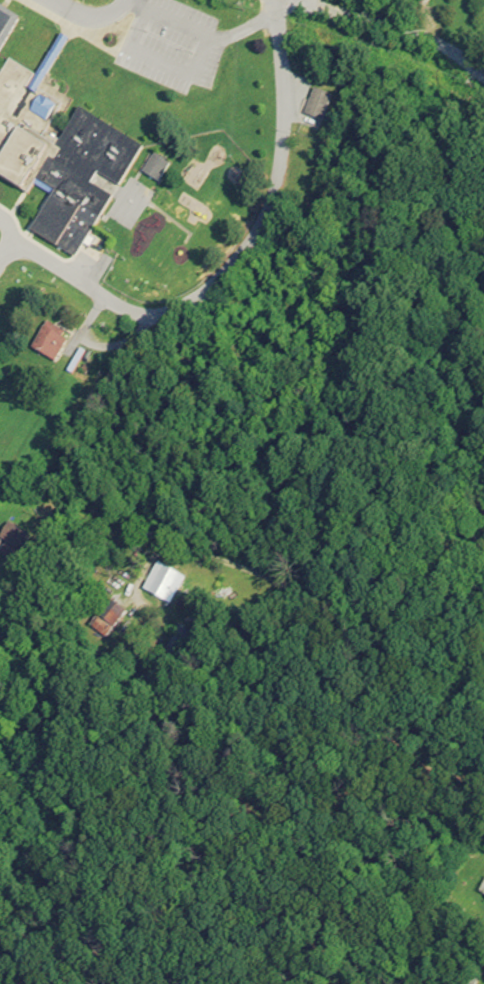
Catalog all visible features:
road: (88, 13)
road: (390, 24)
building: (7, 29)
road: (206, 34)
building: (318, 105)
building: (59, 161)
building: (137, 198)
building: (144, 232)
building: (165, 246)
road: (233, 263)
building: (49, 343)
building: (13, 542)
building: (164, 584)
road: (330, 599)
building: (106, 620)

